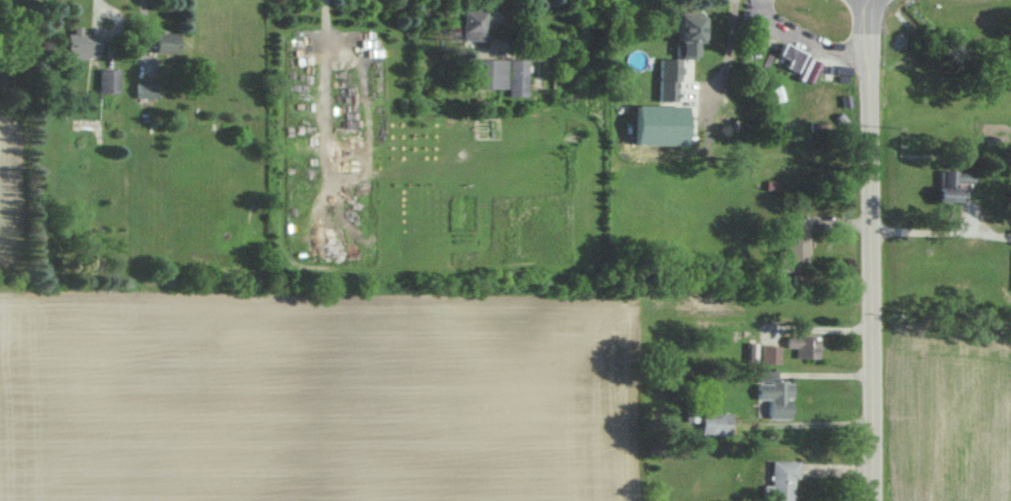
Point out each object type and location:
building: (467, 23)
building: (677, 35)
building: (163, 41)
building: (77, 45)
building: (781, 56)
building: (496, 74)
building: (106, 81)
building: (661, 89)
building: (143, 92)
building: (941, 184)
building: (789, 240)
road: (867, 250)
building: (1008, 269)
building: (798, 345)
building: (768, 353)
building: (769, 393)
building: (706, 421)
building: (778, 480)

